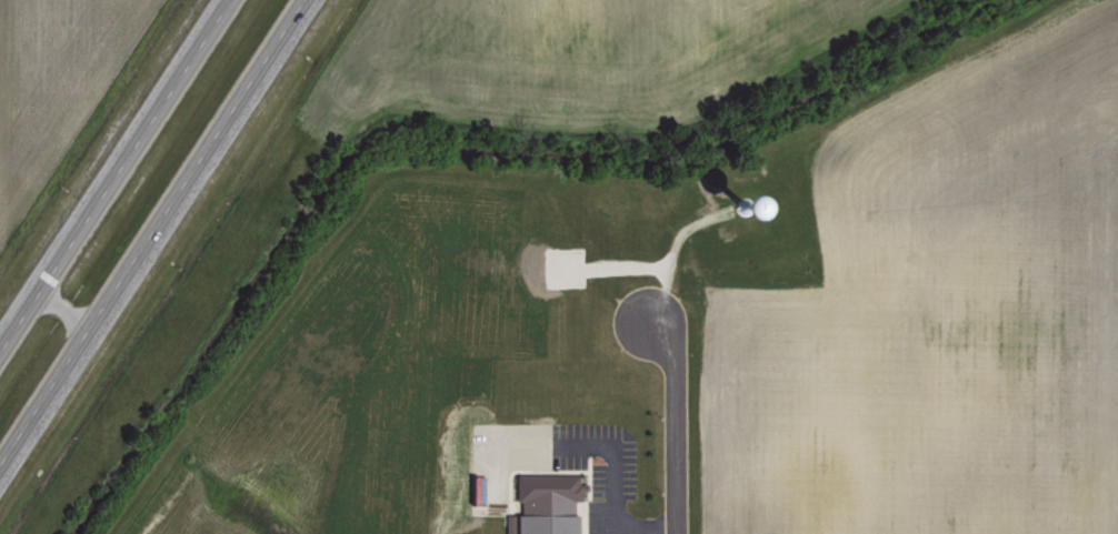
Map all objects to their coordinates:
crop: (53, 81)
road: (110, 170)
water tower: (740, 204)
road: (163, 250)
road: (72, 310)
road: (679, 426)
building: (543, 504)

